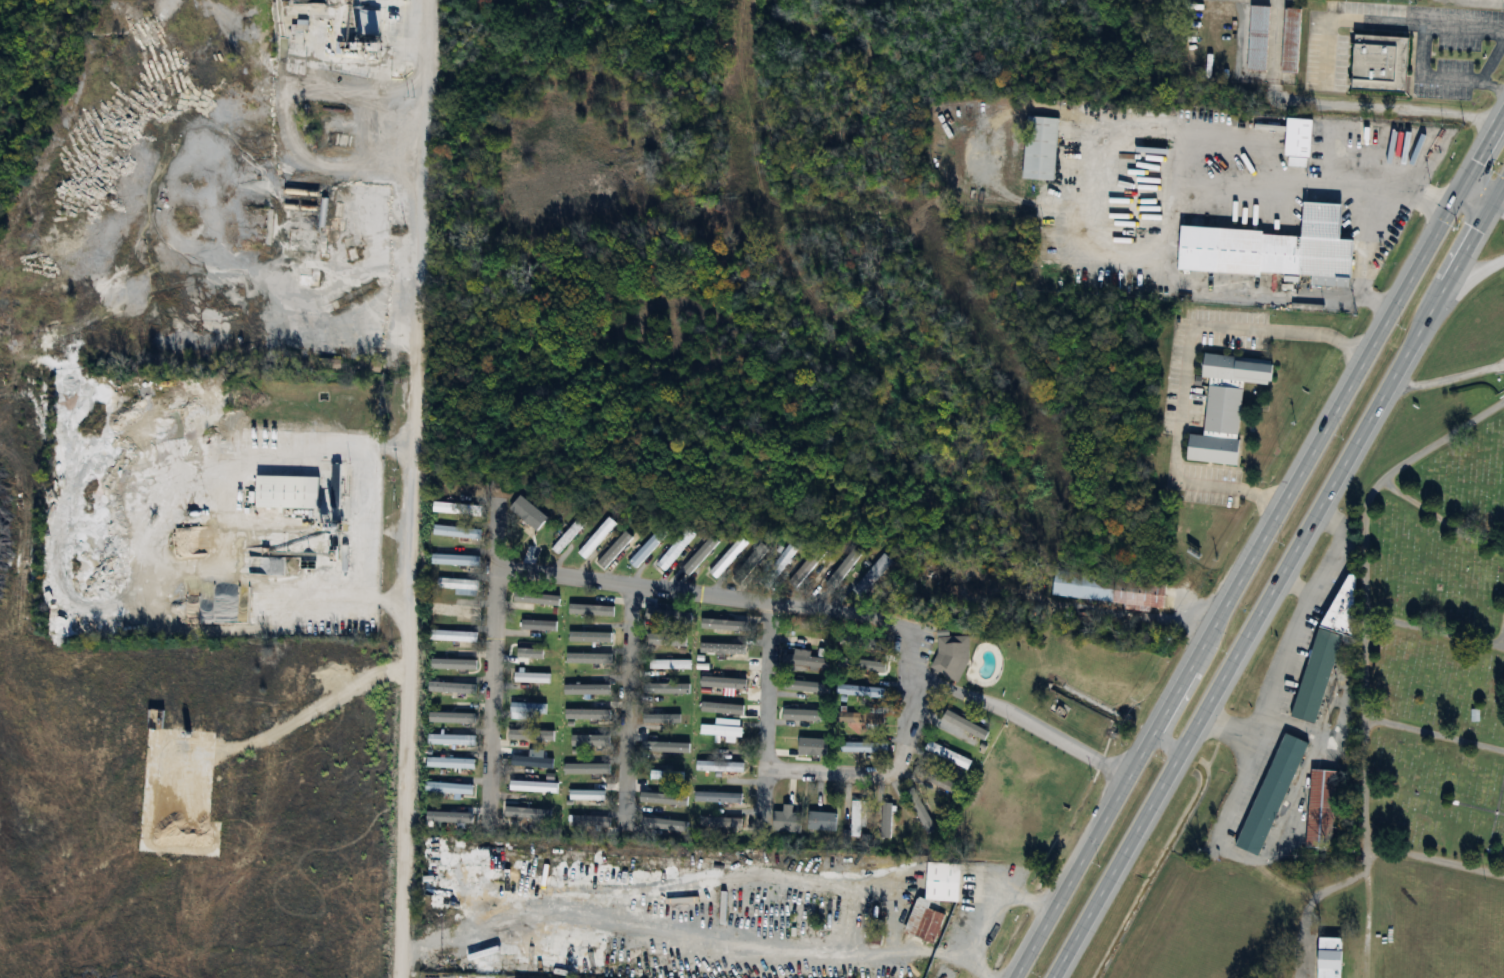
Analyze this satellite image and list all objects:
building: (307, 1)
building: (1256, 38)
building: (1289, 40)
building: (1377, 64)
road: (1483, 66)
road: (1339, 108)
building: (1295, 138)
building: (1038, 148)
traffic signals: (1461, 190)
road: (1482, 201)
traffic signals: (1488, 205)
road: (1370, 228)
building: (1270, 249)
road: (1471, 266)
building: (328, 364)
building: (367, 367)
road: (1182, 367)
building: (1222, 405)
road: (411, 488)
building: (284, 492)
building: (455, 509)
building: (527, 513)
road: (358, 517)
building: (456, 532)
building: (567, 536)
building: (595, 537)
building: (616, 544)
road: (1259, 545)
road: (1327, 546)
building: (674, 549)
building: (726, 557)
building: (782, 558)
building: (454, 560)
building: (803, 569)
building: (828, 573)
building: (871, 574)
road: (1278, 577)
building: (459, 586)
building: (1108, 589)
road: (705, 592)
building: (540, 600)
building: (453, 610)
building: (537, 625)
park: (1438, 626)
building: (452, 636)
building: (668, 639)
building: (864, 641)
building: (1324, 647)
building: (727, 649)
building: (948, 656)
building: (586, 658)
building: (802, 660)
road: (493, 662)
building: (668, 664)
building: (859, 664)
road: (1274, 668)
building: (721, 676)
building: (530, 677)
building: (450, 688)
building: (859, 691)
road: (627, 701)
road: (764, 707)
building: (527, 710)
building: (857, 717)
building: (664, 719)
building: (963, 725)
road: (1037, 727)
building: (722, 731)
building: (450, 740)
road: (1168, 741)
building: (862, 747)
building: (946, 756)
building: (449, 763)
road: (897, 766)
building: (718, 767)
building: (510, 775)
building: (665, 775)
road: (1236, 782)
building: (451, 790)
building: (586, 795)
building: (1269, 795)
building: (716, 797)
building: (794, 808)
building: (1319, 808)
building: (535, 811)
building: (856, 817)
building: (448, 818)
building: (884, 821)
building: (820, 822)
building: (587, 823)
building: (719, 824)
building: (664, 825)
building: (941, 881)
road: (984, 914)
building: (922, 921)
road: (776, 942)
building: (1327, 958)

